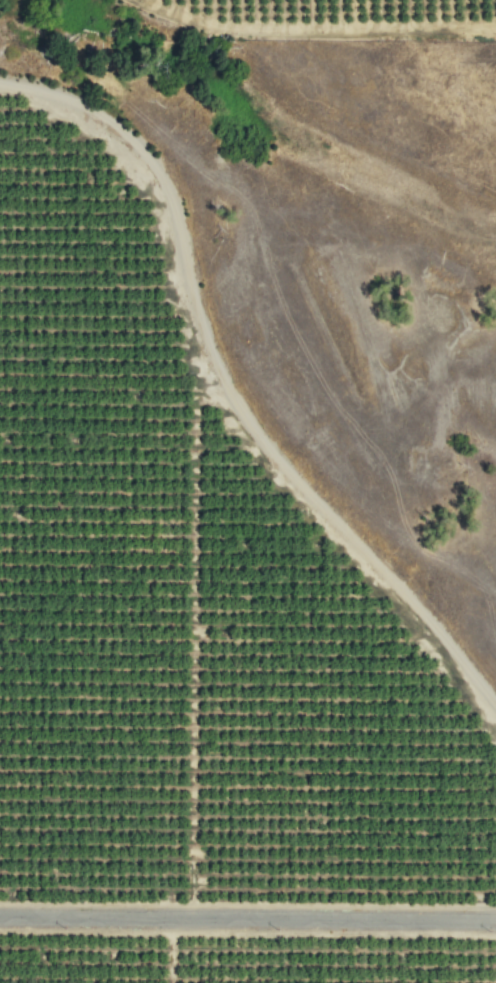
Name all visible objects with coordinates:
road: (248, 916)

